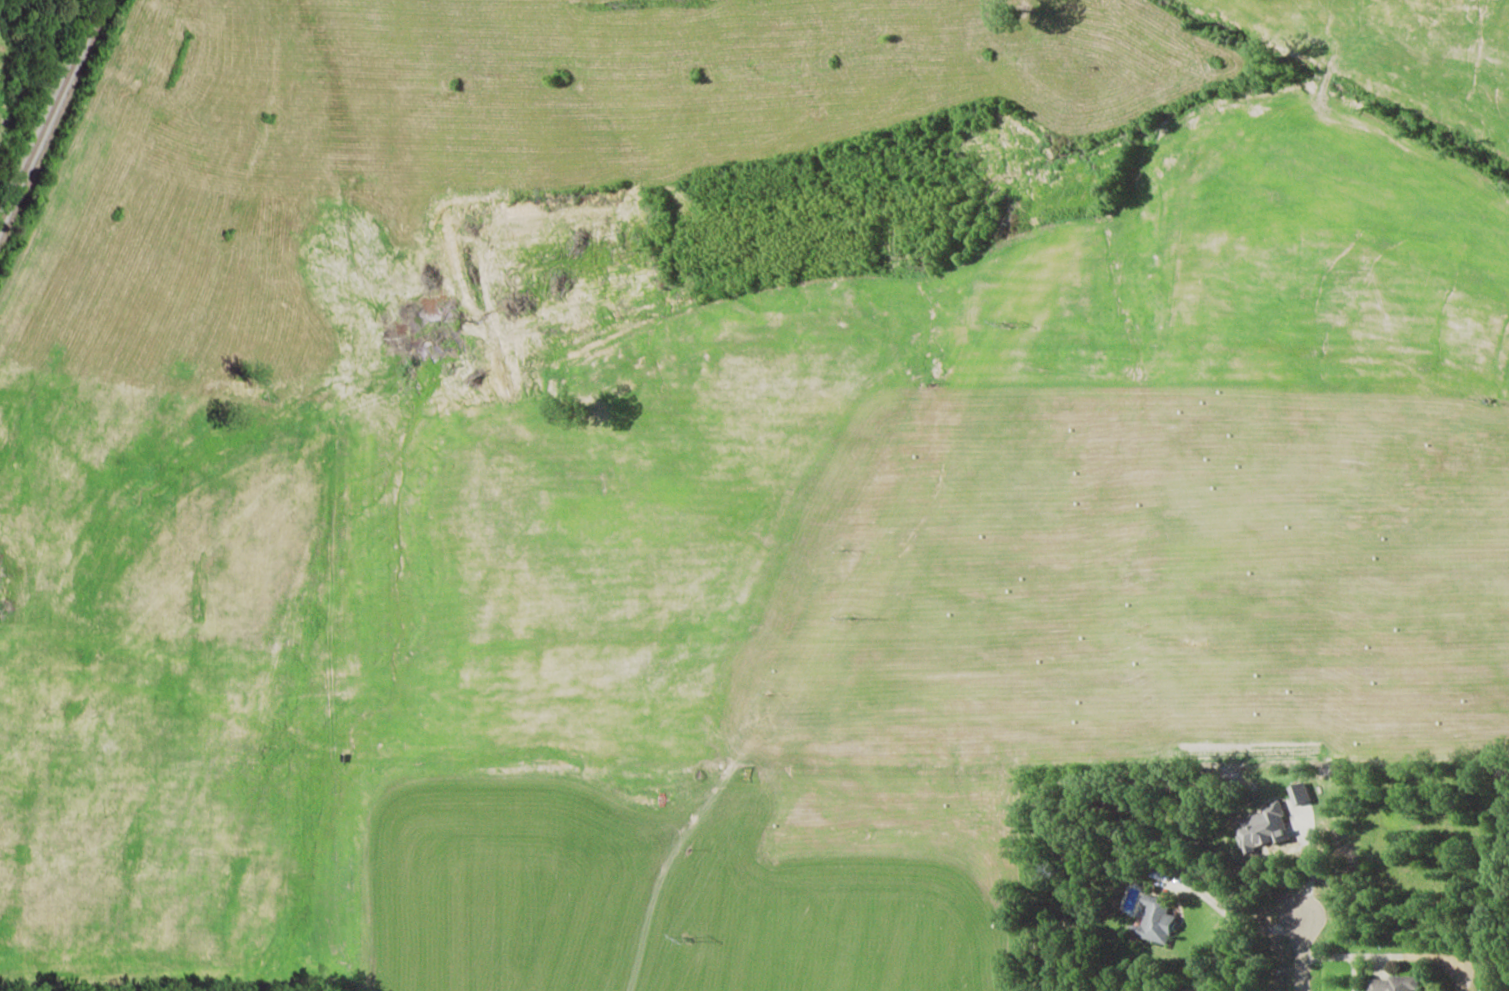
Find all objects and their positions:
railway: (50, 109)
building: (1298, 793)
building: (1261, 828)
building: (1158, 919)
building: (1394, 983)

